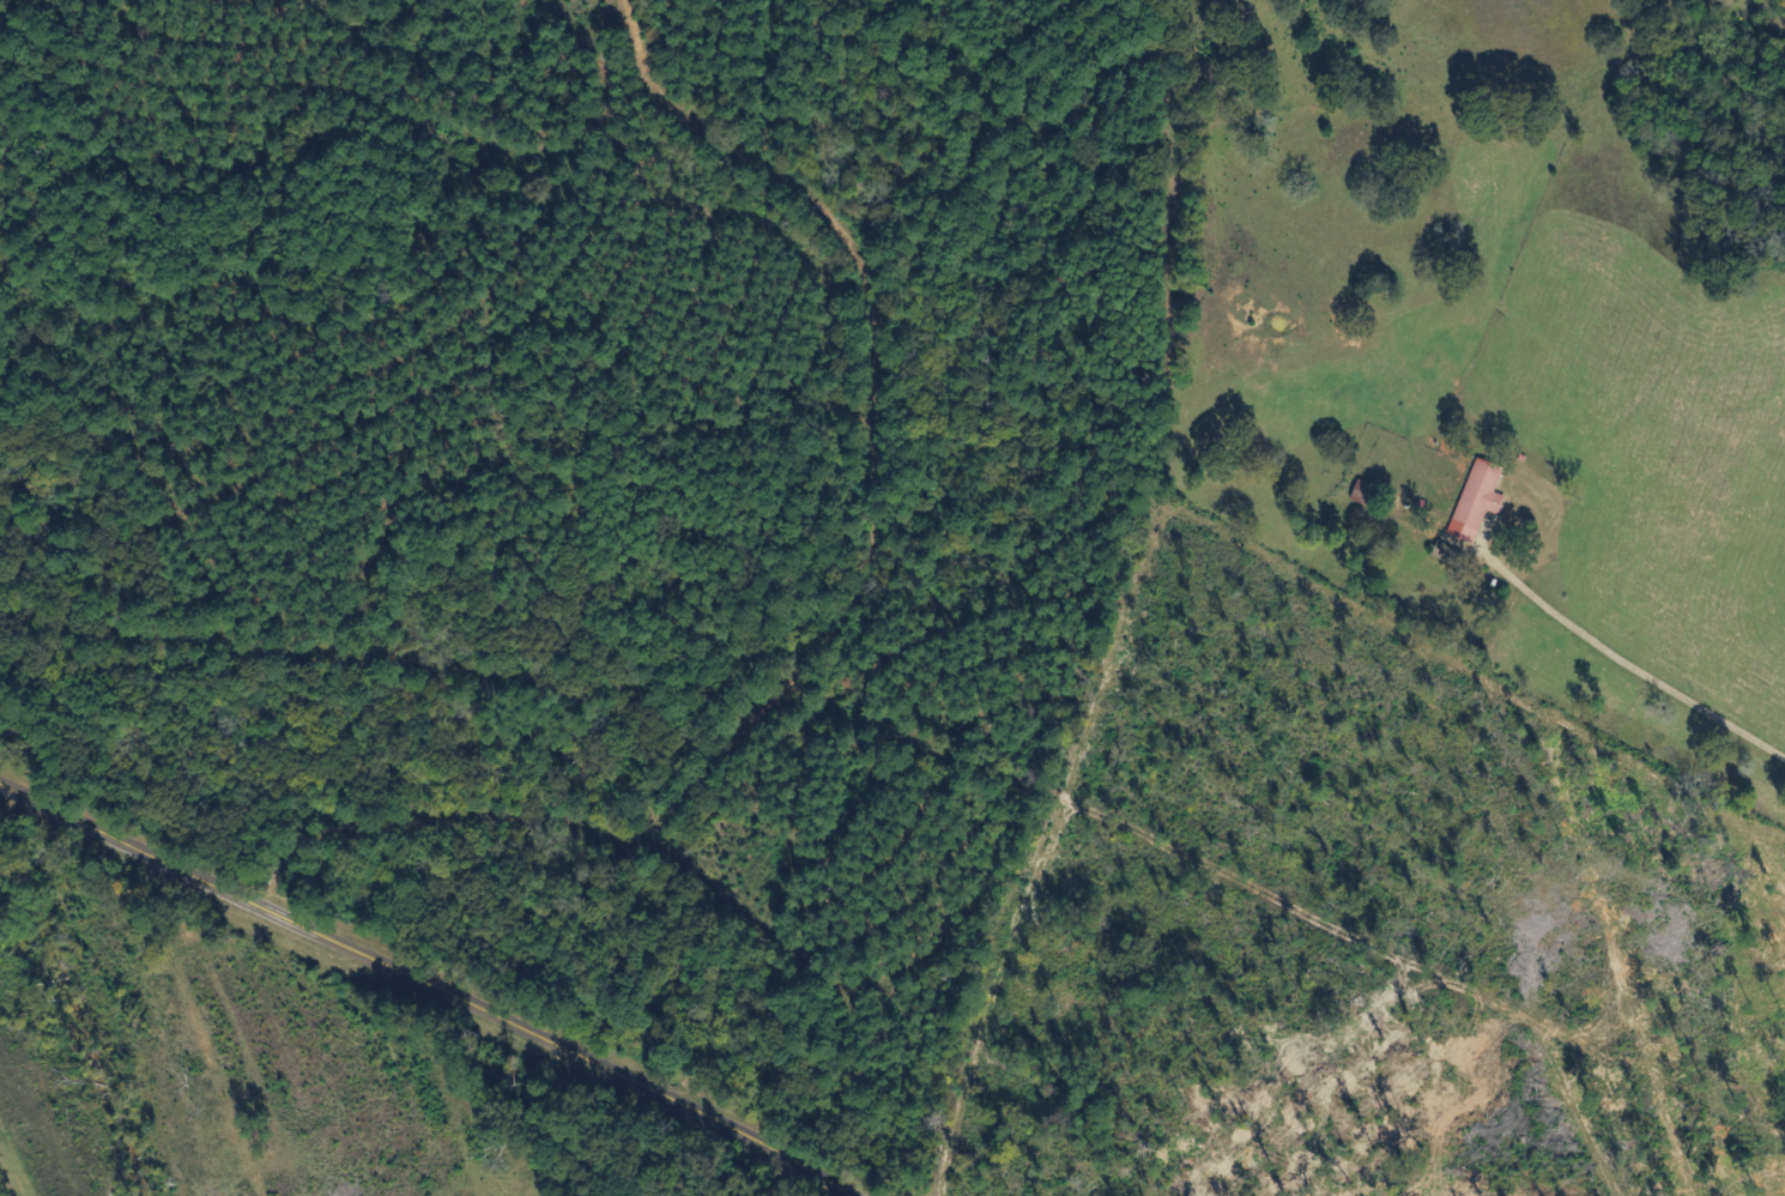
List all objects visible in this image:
building: (1474, 503)
building: (1446, 558)
road: (1083, 729)
road: (425, 990)

